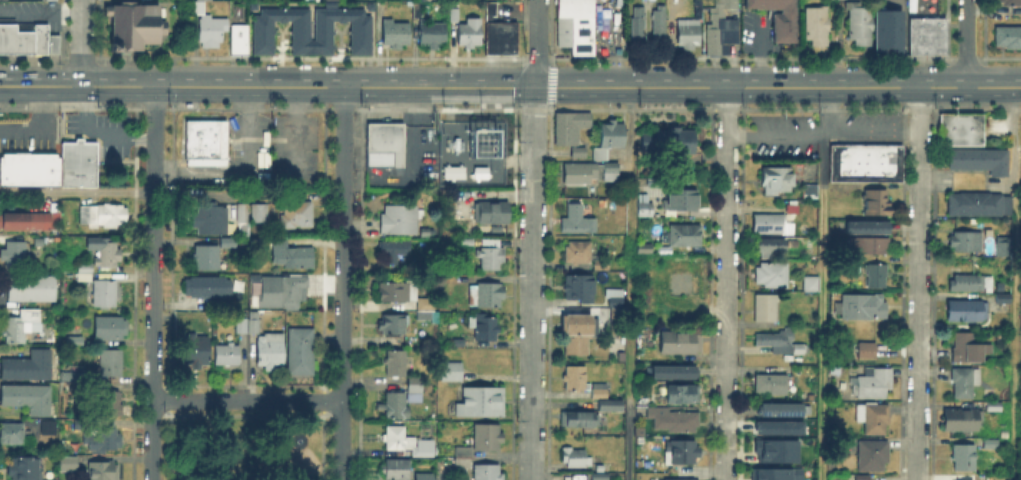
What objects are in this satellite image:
building: (49, 0)
building: (204, 1)
building: (8, 3)
building: (1010, 4)
building: (251, 5)
building: (368, 6)
building: (200, 9)
building: (417, 9)
building: (455, 16)
building: (781, 19)
building: (656, 20)
building: (635, 21)
building: (857, 21)
building: (135, 26)
building: (577, 27)
building: (722, 27)
building: (820, 29)
building: (886, 31)
building: (213, 32)
building: (685, 32)
building: (361, 33)
building: (398, 35)
building: (470, 35)
building: (431, 36)
building: (500, 37)
building: (930, 39)
building: (27, 40)
building: (1007, 40)
road: (80, 42)
building: (240, 42)
road: (538, 43)
road: (967, 43)
road: (758, 57)
road: (110, 76)
road: (562, 78)
road: (610, 86)
road: (268, 87)
road: (826, 87)
road: (563, 94)
road: (421, 126)
road: (631, 127)
building: (571, 129)
building: (964, 131)
building: (613, 136)
road: (1014, 136)
building: (206, 143)
building: (669, 143)
road: (821, 144)
building: (386, 148)
building: (580, 153)
building: (601, 155)
building: (1020, 161)
building: (863, 162)
building: (981, 163)
building: (53, 169)
building: (611, 172)
building: (580, 174)
building: (774, 178)
building: (807, 190)
road: (266, 193)
building: (683, 201)
building: (877, 203)
building: (980, 205)
building: (645, 210)
building: (791, 211)
building: (243, 214)
building: (260, 214)
building: (493, 215)
building: (103, 216)
building: (297, 216)
building: (209, 220)
building: (400, 220)
building: (578, 221)
building: (30, 222)
building: (768, 224)
building: (867, 230)
building: (684, 236)
building: (966, 242)
building: (228, 244)
building: (771, 247)
building: (872, 247)
building: (1005, 248)
building: (646, 250)
building: (394, 252)
building: (579, 254)
building: (15, 255)
building: (107, 256)
building: (293, 257)
building: (491, 258)
building: (207, 259)
building: (854, 263)
building: (602, 265)
building: (86, 275)
building: (773, 276)
building: (876, 276)
road: (153, 283)
road: (343, 283)
road: (533, 283)
road: (630, 283)
road: (726, 283)
road: (918, 283)
building: (971, 284)
building: (687, 285)
building: (812, 285)
building: (32, 289)
building: (208, 289)
building: (580, 290)
building: (279, 292)
building: (396, 293)
building: (105, 295)
building: (488, 296)
building: (1004, 296)
building: (616, 299)
building: (864, 307)
building: (666, 310)
building: (767, 310)
building: (427, 312)
building: (967, 312)
building: (253, 324)
building: (393, 325)
building: (20, 327)
building: (242, 327)
building: (486, 328)
building: (109, 329)
road: (1014, 332)
building: (579, 333)
building: (775, 339)
building: (73, 341)
road: (820, 341)
building: (680, 343)
building: (964, 348)
building: (801, 349)
building: (270, 352)
building: (867, 352)
building: (302, 353)
building: (197, 354)
building: (228, 356)
building: (111, 363)
building: (396, 364)
building: (29, 368)
building: (453, 373)
building: (673, 373)
building: (575, 379)
building: (964, 383)
building: (875, 385)
building: (772, 386)
building: (416, 391)
building: (600, 393)
building: (683, 396)
building: (27, 399)
road: (248, 400)
building: (63, 404)
building: (109, 404)
building: (481, 404)
building: (396, 406)
building: (612, 406)
building: (994, 408)
building: (777, 409)
building: (874, 419)
building: (963, 420)
building: (581, 421)
building: (674, 421)
building: (776, 426)
building: (49, 429)
building: (12, 434)
building: (487, 439)
road: (628, 439)
building: (104, 441)
building: (992, 444)
building: (410, 445)
park: (246, 448)
building: (773, 449)
building: (682, 453)
building: (874, 457)
building: (464, 458)
building: (964, 458)
building: (577, 459)
building: (68, 465)
building: (23, 468)
building: (394, 468)
building: (602, 469)
building: (103, 471)
building: (488, 472)
building: (774, 473)
building: (421, 475)
building: (600, 477)
building: (864, 477)
building: (675, 478)
building: (959, 479)

